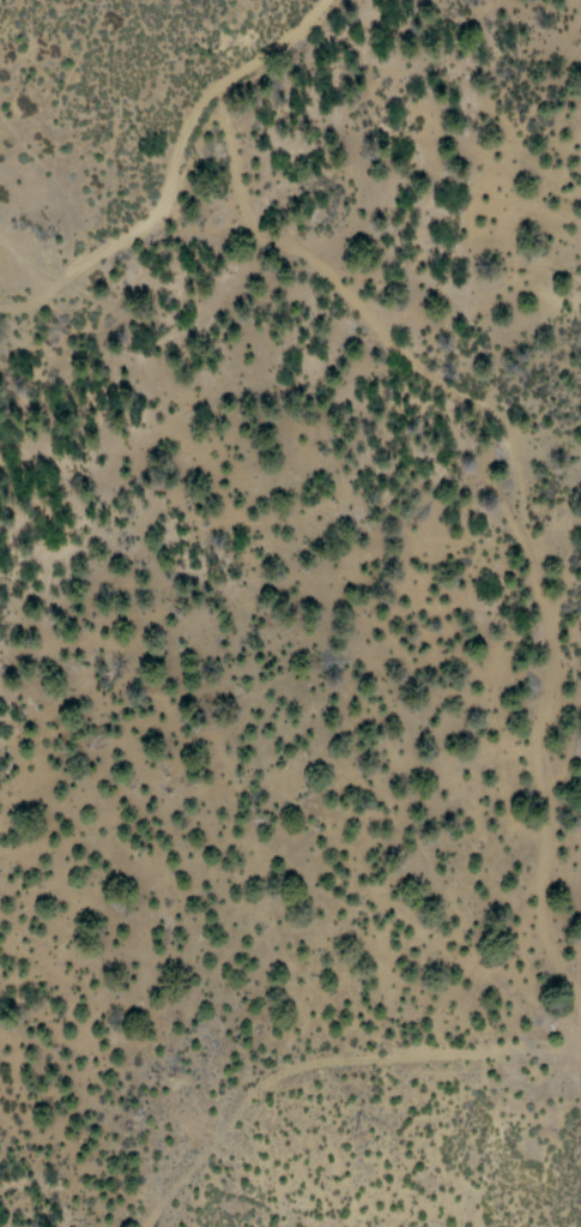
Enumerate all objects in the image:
road: (183, 164)

